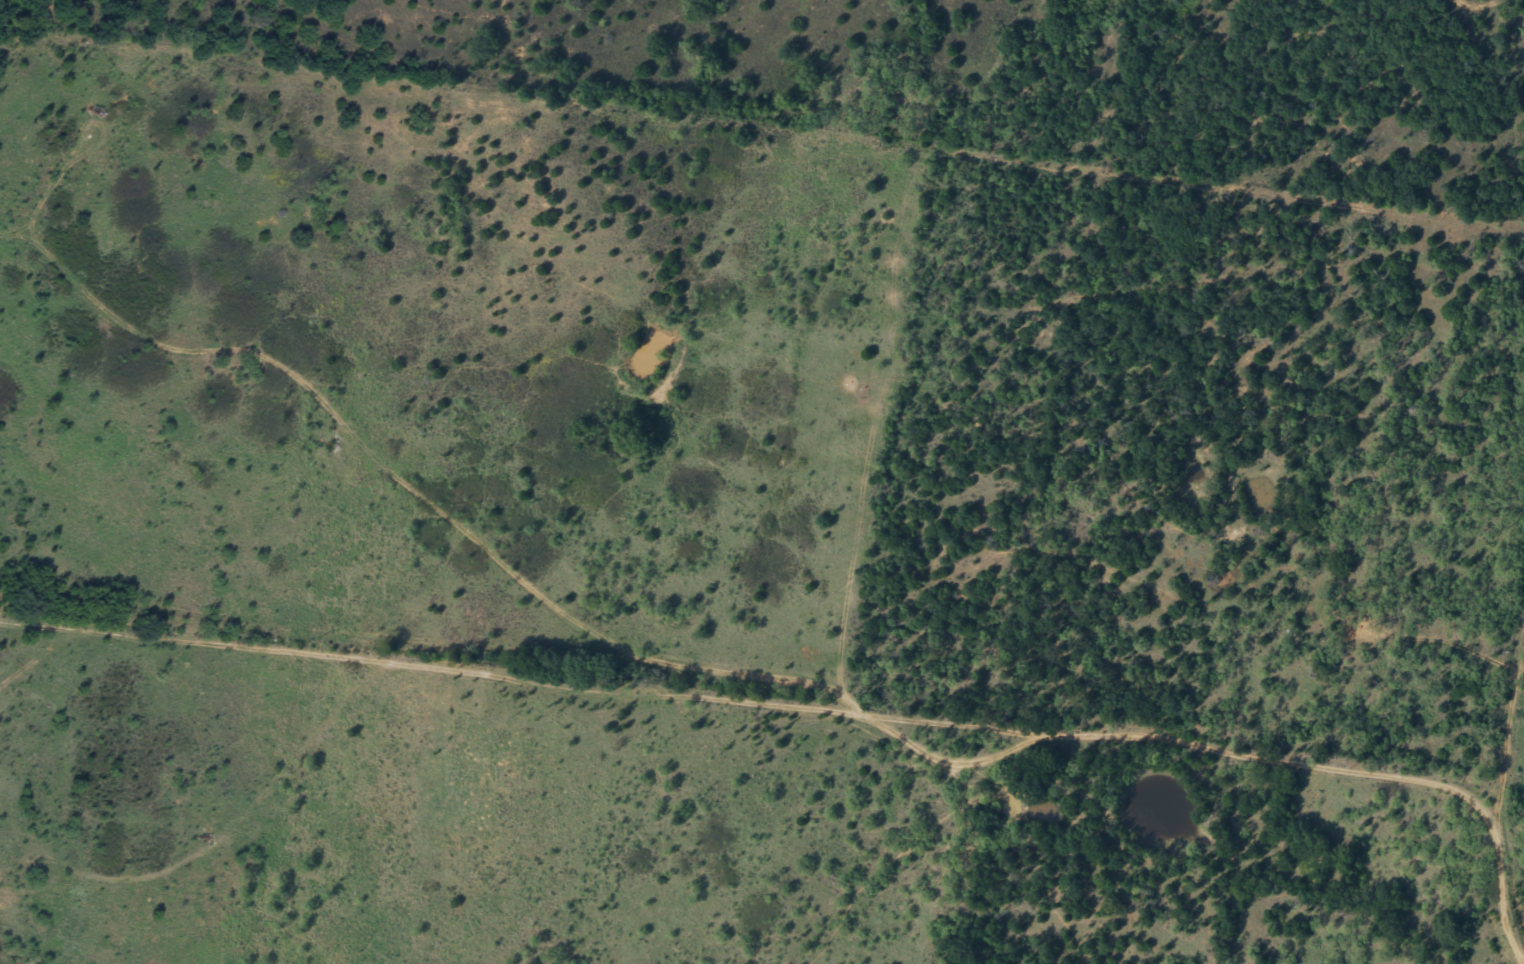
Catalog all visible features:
road: (814, 700)
road: (1513, 762)

